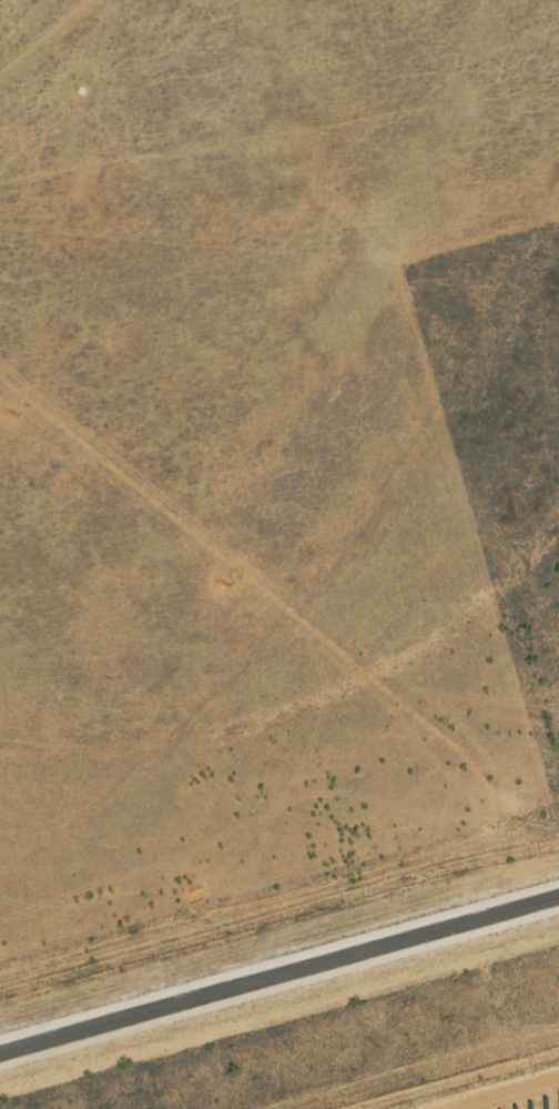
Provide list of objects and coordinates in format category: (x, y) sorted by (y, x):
road: (279, 972)
solar farm: (500, 1092)

